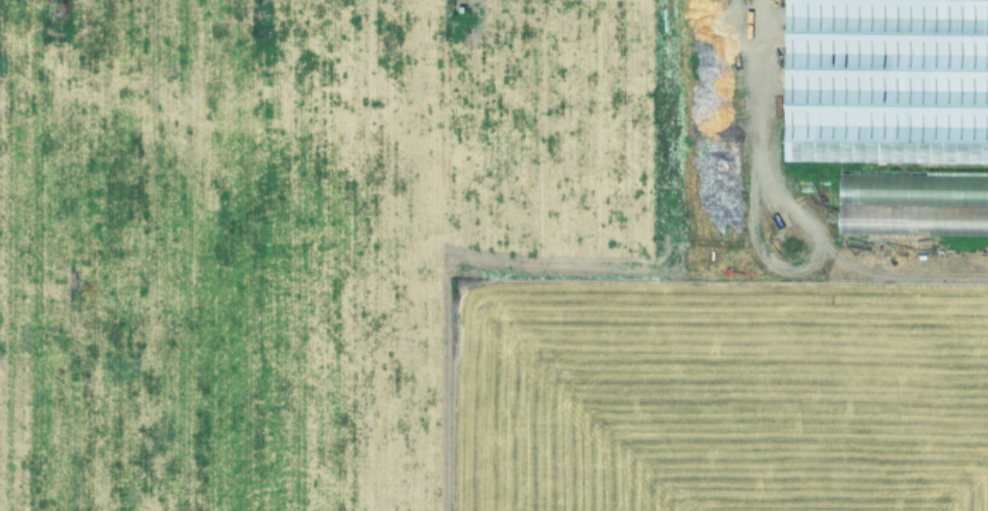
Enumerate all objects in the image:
road: (753, 83)
crop: (494, 255)
road: (800, 265)

